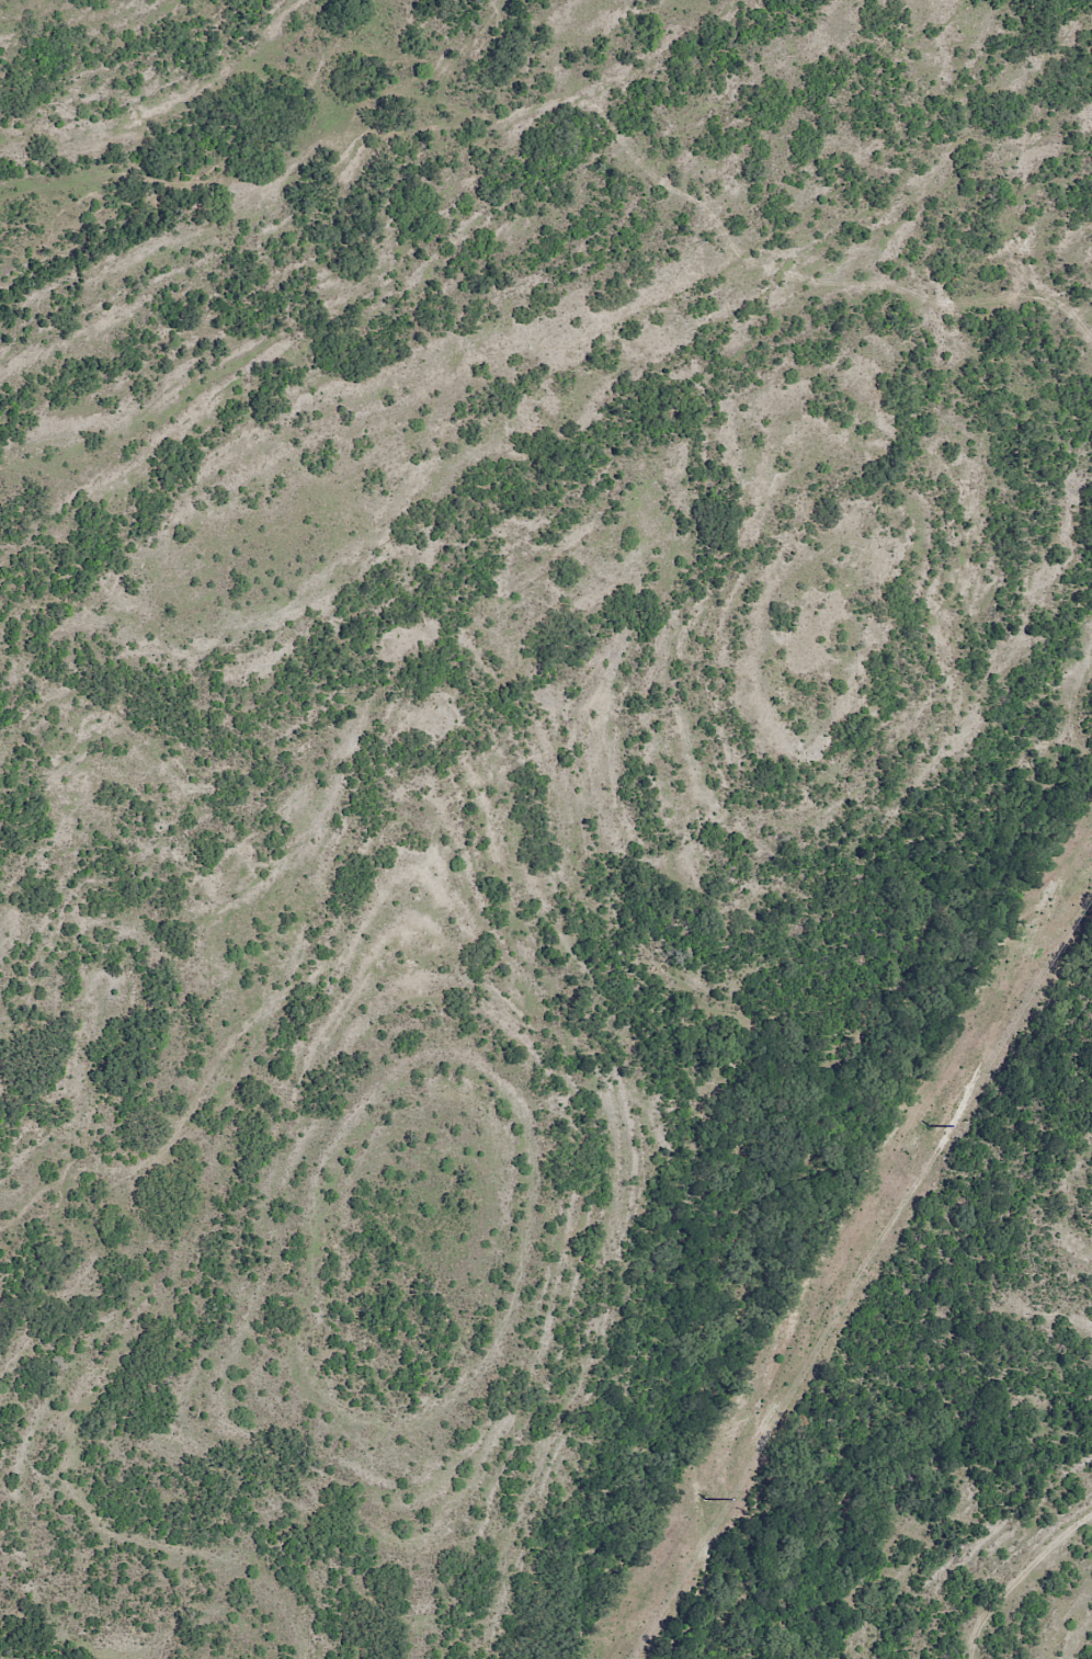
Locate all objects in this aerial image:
road: (491, 48)
road: (554, 124)
power tower: (926, 1123)
power tower: (703, 1496)
road: (1039, 1604)

